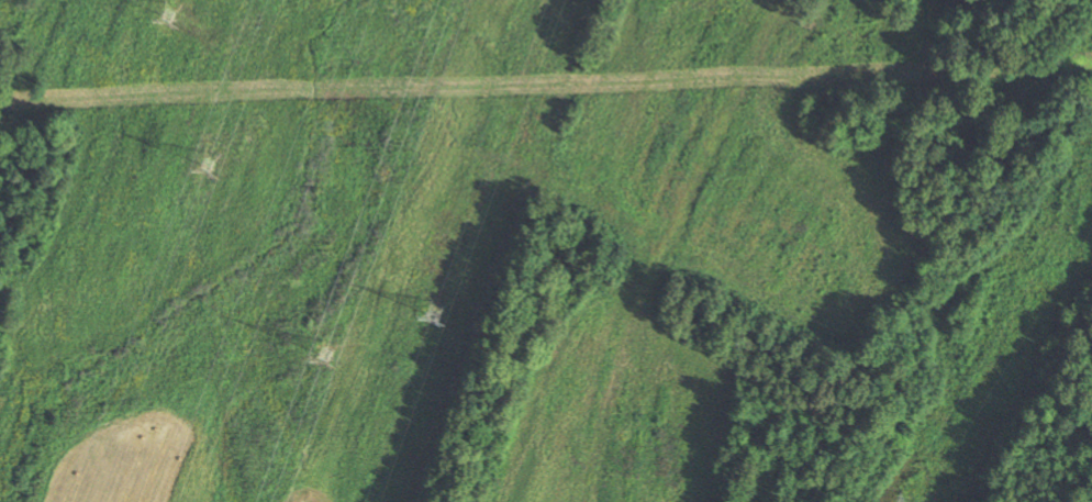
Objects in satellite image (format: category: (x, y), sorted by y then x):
power tower: (167, 12)
power tower: (205, 156)
power tower: (433, 311)
power tower: (326, 347)

